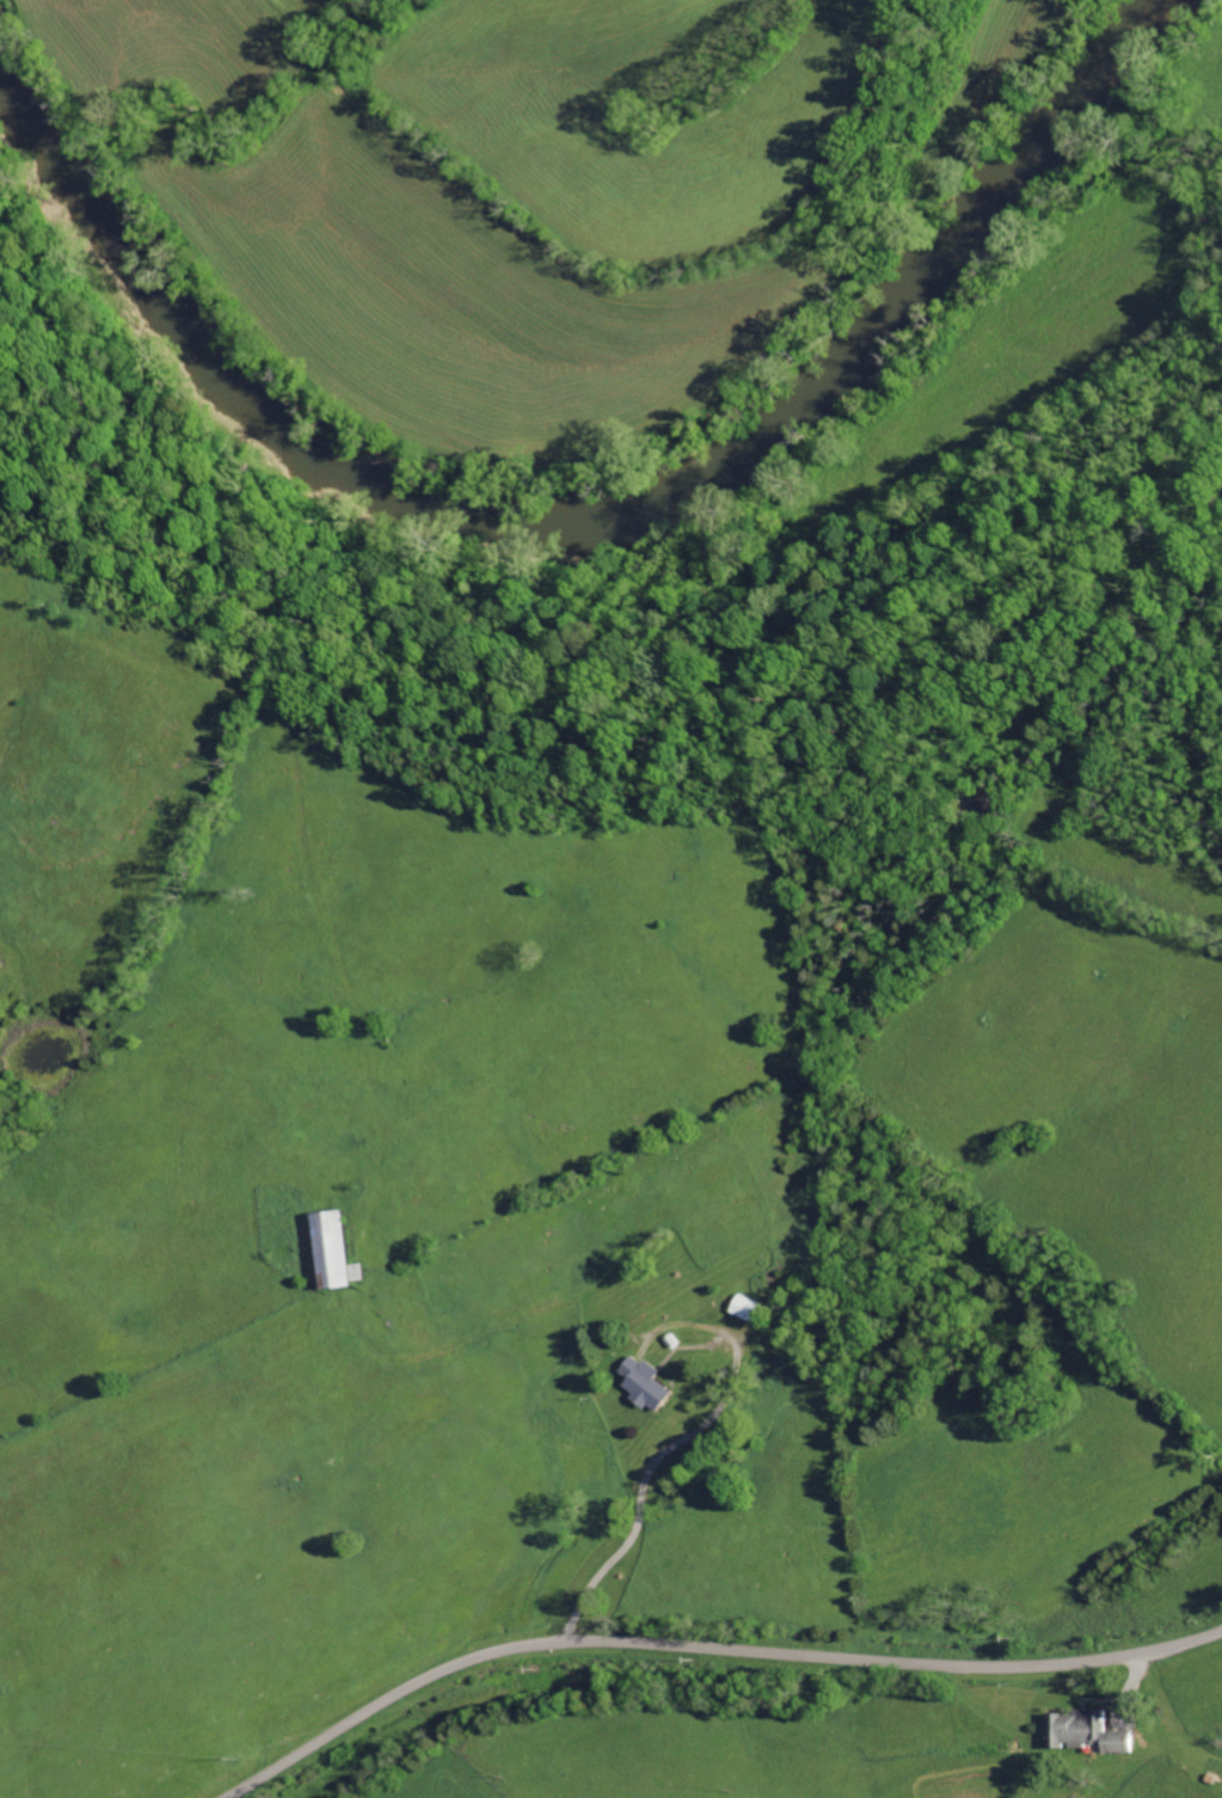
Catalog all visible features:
river: (573, 499)
building: (343, 1250)
building: (651, 1383)
road: (645, 1480)
road: (705, 1647)
building: (1086, 1732)

